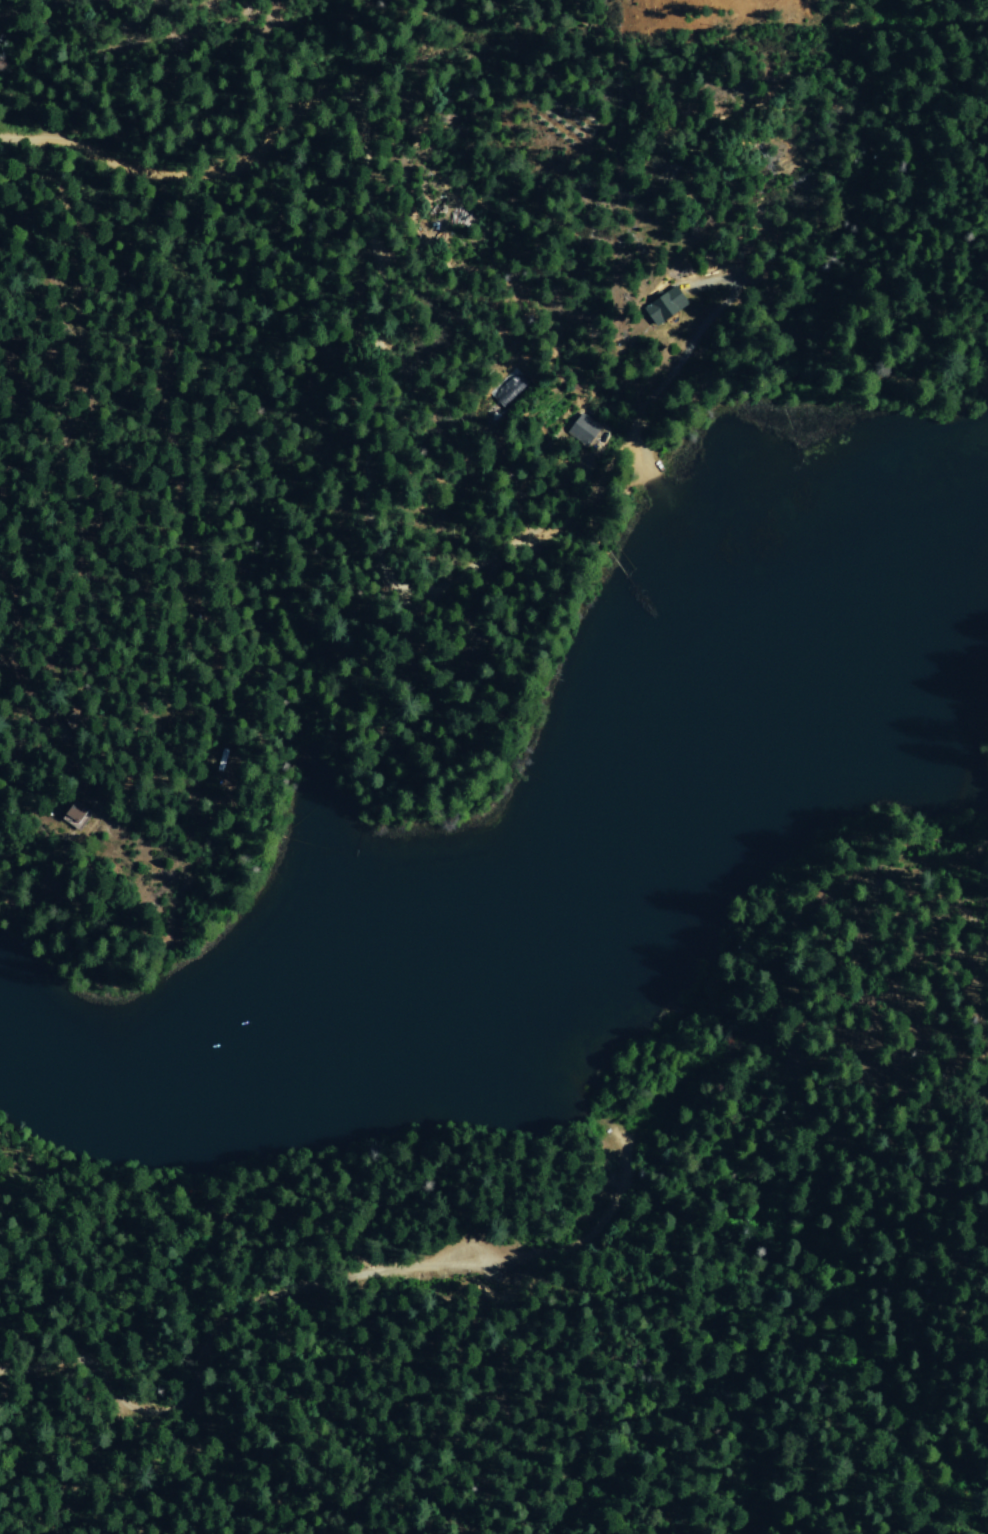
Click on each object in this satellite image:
building: (663, 305)
road: (374, 336)
road: (822, 356)
building: (582, 430)
building: (74, 815)
road: (213, 1363)

